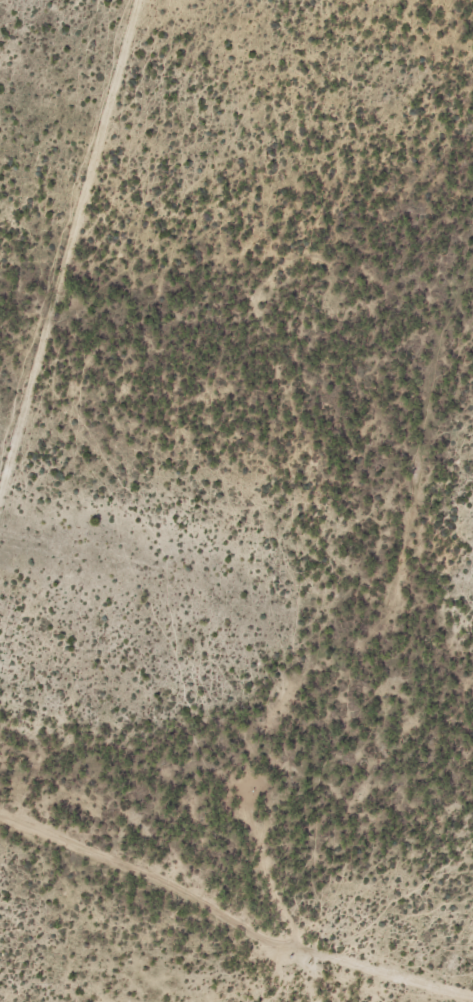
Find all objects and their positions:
road: (68, 241)
road: (230, 922)

